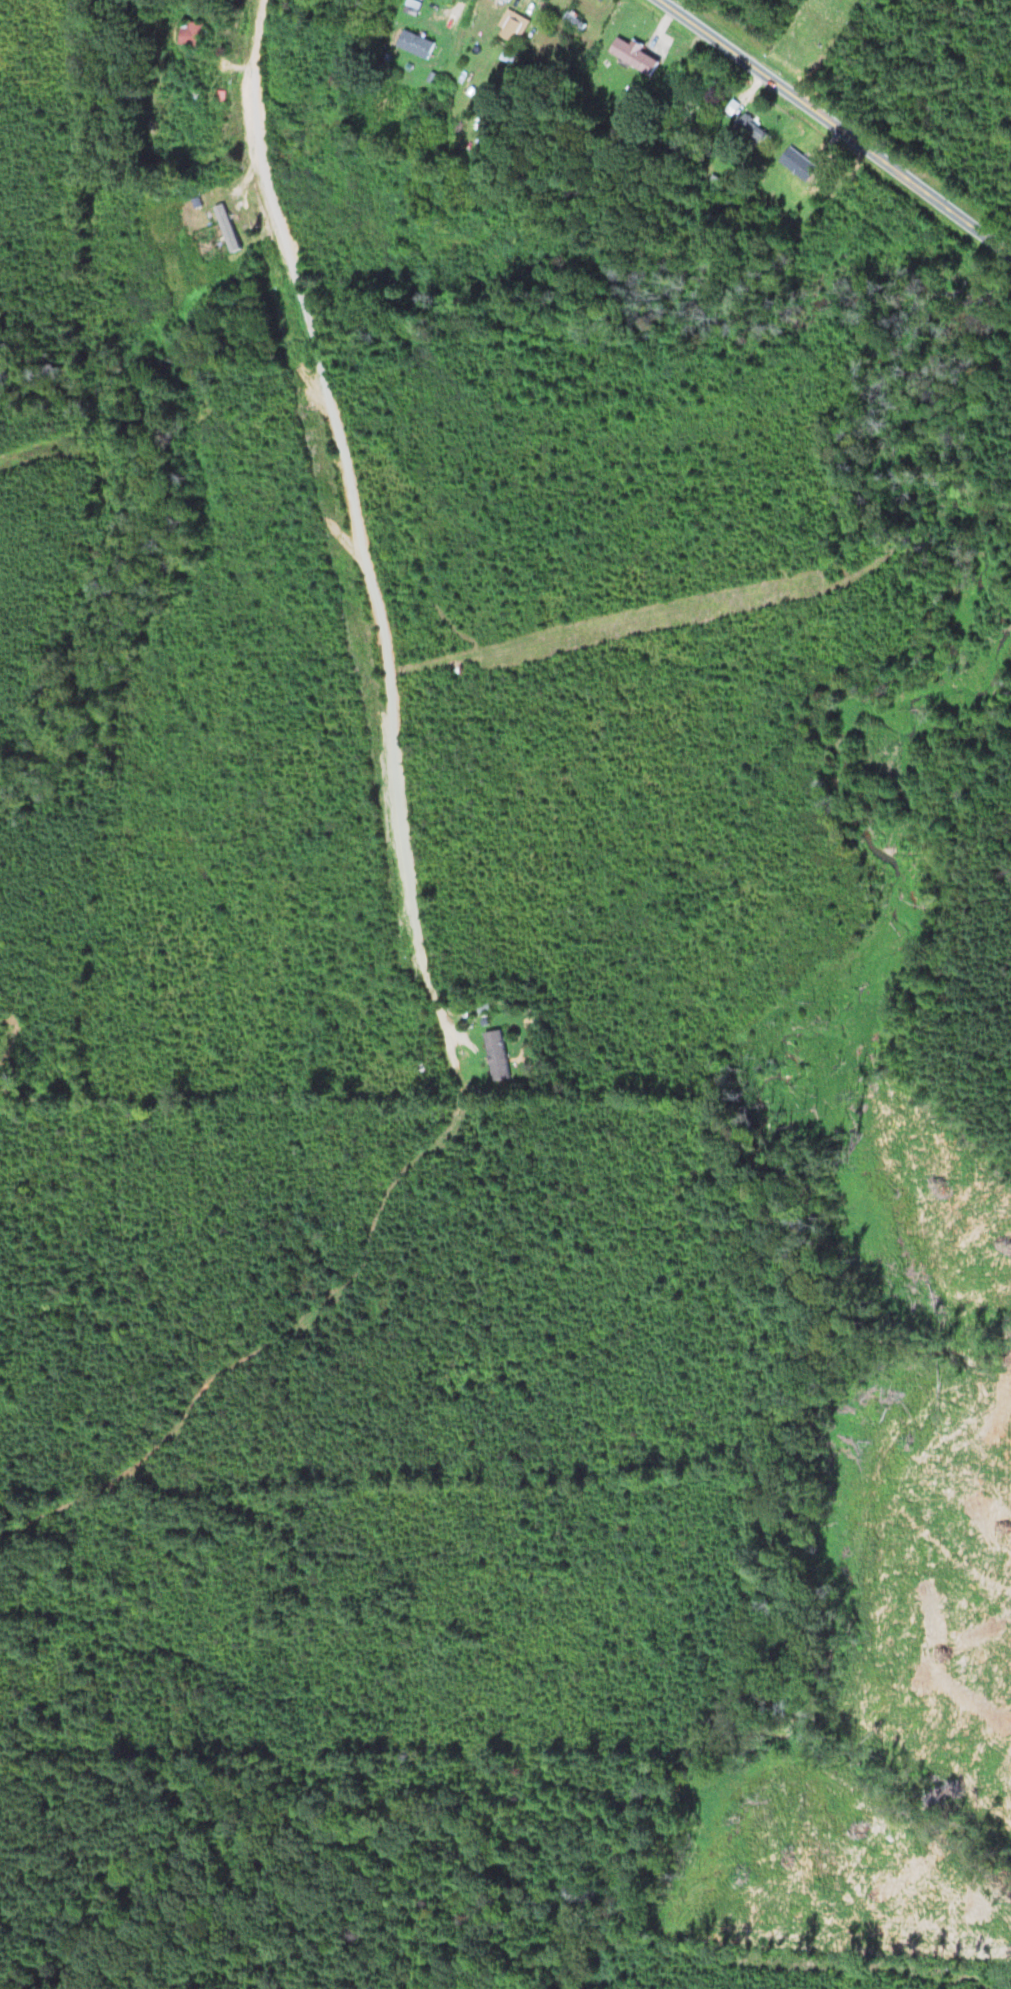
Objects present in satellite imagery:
building: (188, 34)
building: (507, 34)
building: (413, 45)
building: (632, 56)
road: (840, 128)
building: (748, 131)
building: (796, 164)
road: (354, 518)
building: (495, 1056)

